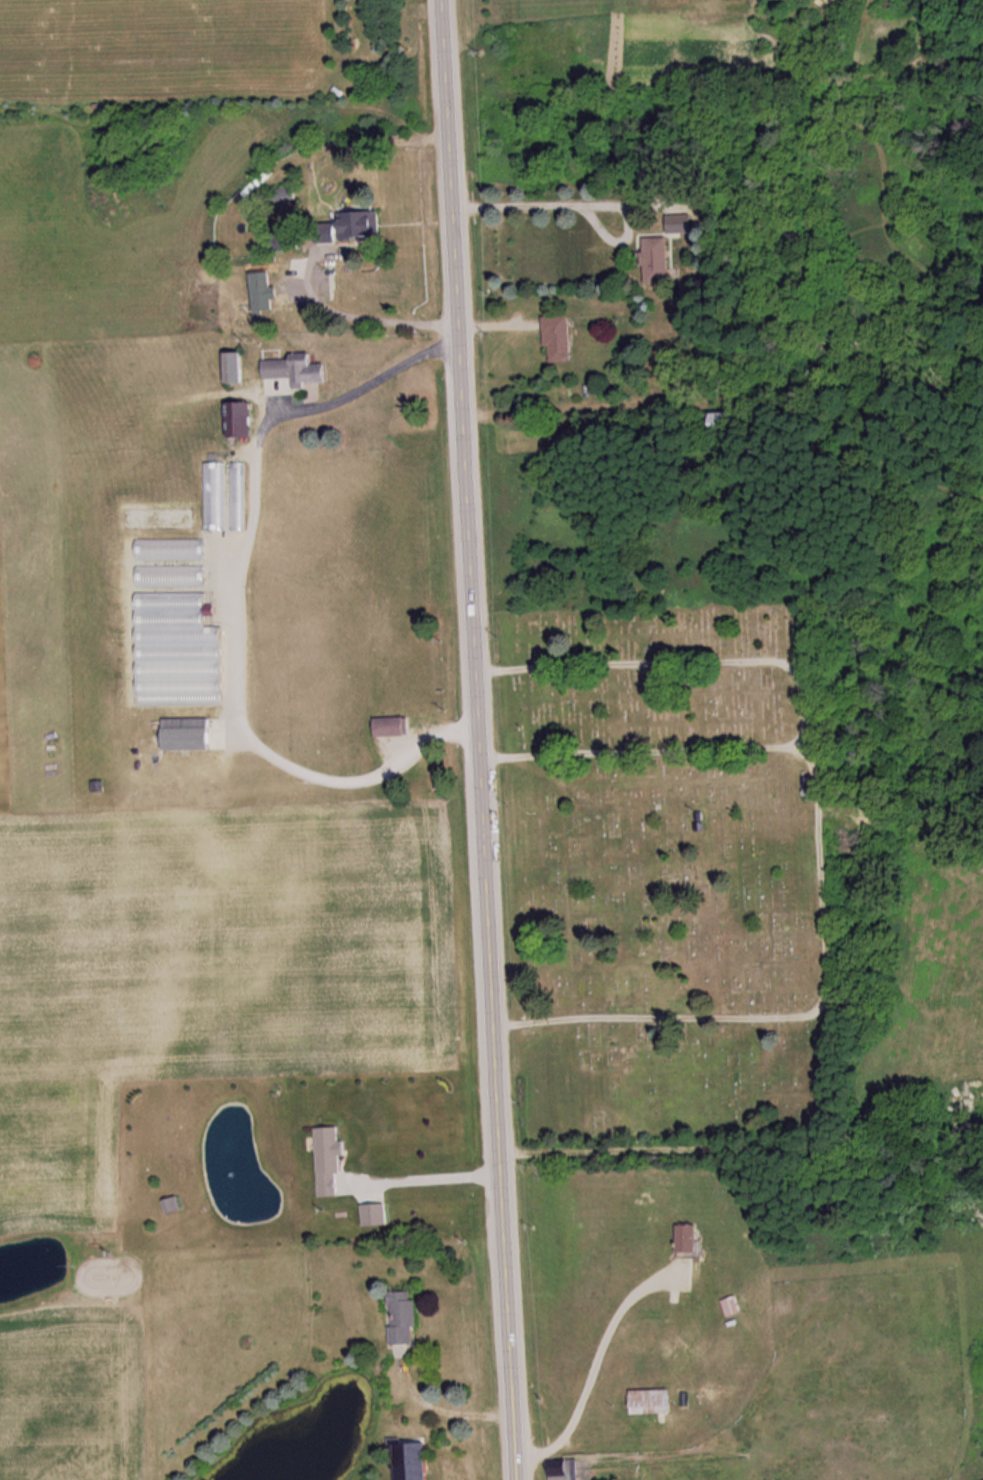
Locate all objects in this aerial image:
building: (364, 225)
building: (677, 225)
building: (287, 242)
building: (656, 260)
building: (841, 330)
building: (560, 338)
building: (239, 368)
building: (300, 370)
building: (245, 420)
building: (719, 423)
building: (217, 496)
building: (241, 497)
building: (172, 549)
building: (172, 576)
building: (181, 652)
road: (805, 704)
building: (392, 727)
building: (190, 735)
road: (477, 740)
park: (664, 869)
road: (797, 1016)
building: (176, 1206)
building: (692, 1243)
building: (733, 1308)
building: (408, 1320)
building: (653, 1403)
building: (567, 1470)

